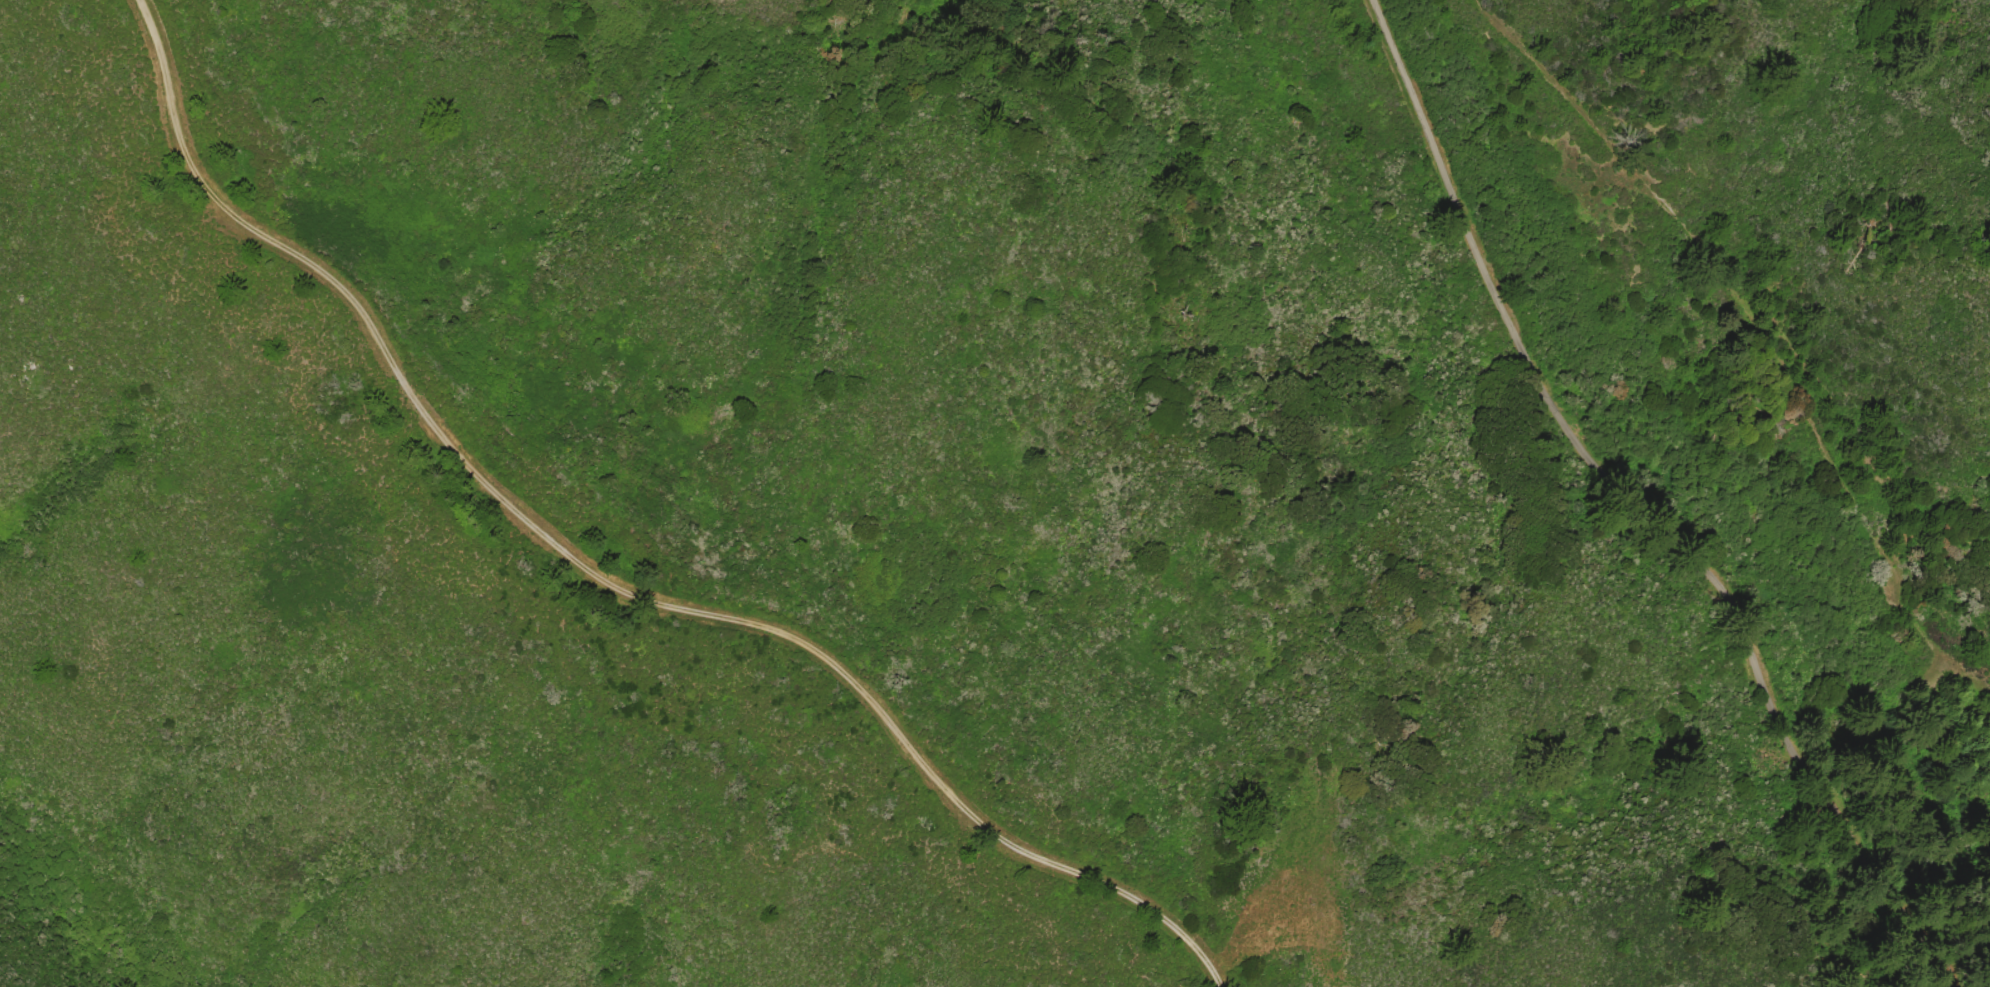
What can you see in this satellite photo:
road: (1647, 495)
road: (602, 577)

